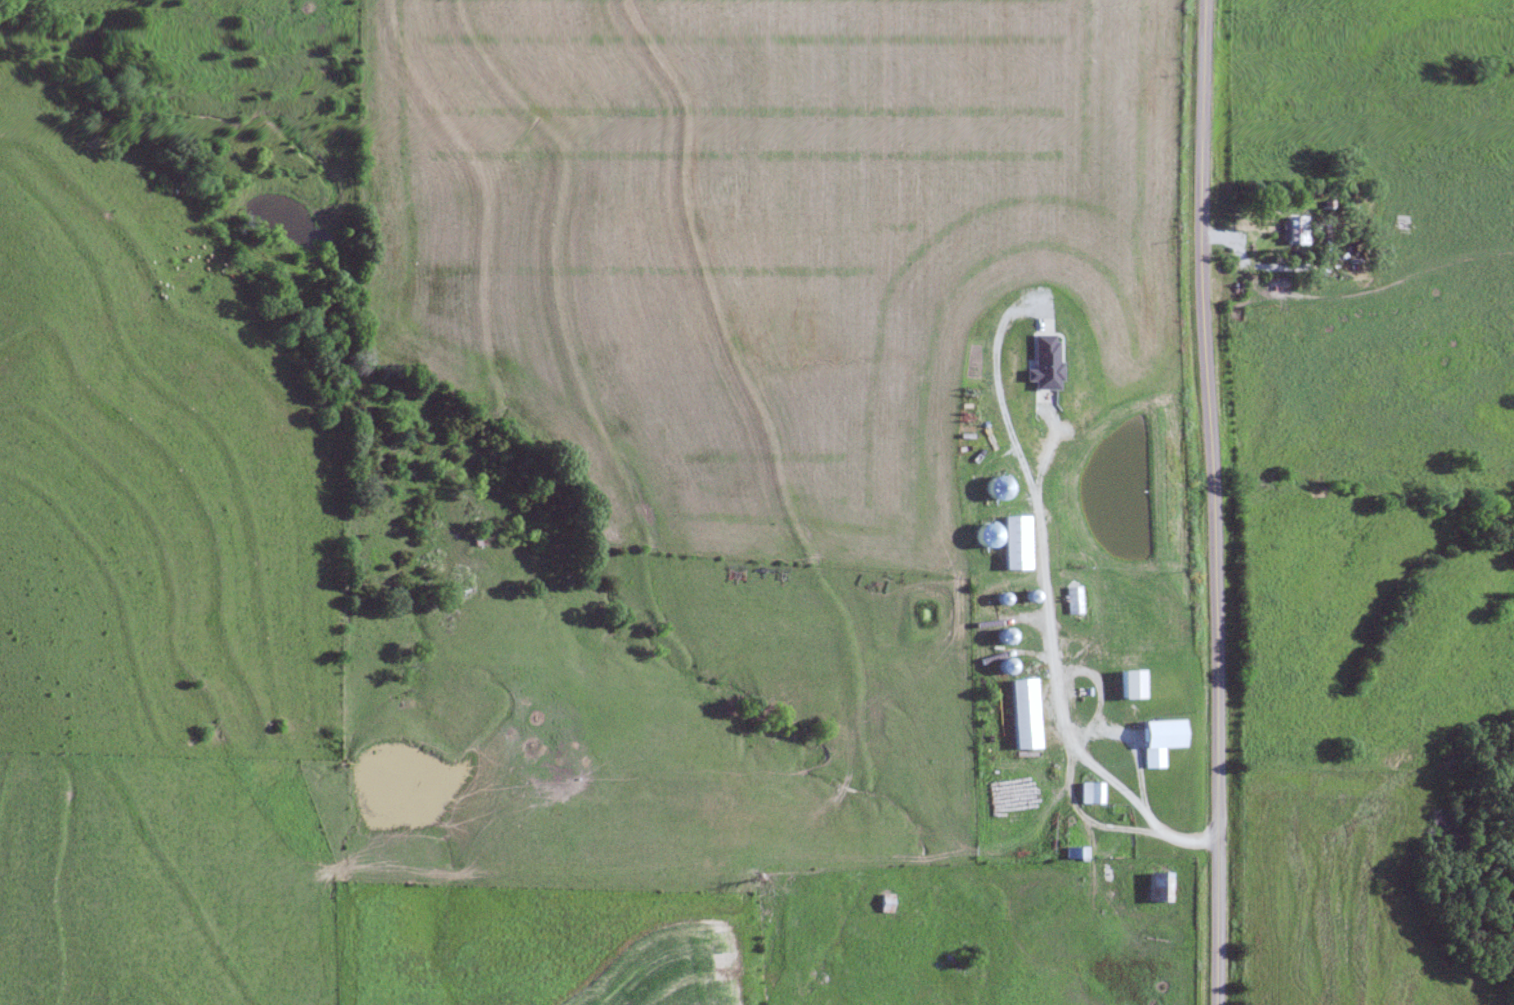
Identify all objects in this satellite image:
building: (1295, 230)
road: (1260, 262)
road: (1211, 502)
building: (1014, 543)
building: (1071, 600)
road: (1051, 660)
building: (1135, 673)
building: (1021, 714)
building: (1088, 793)
building: (1073, 853)
building: (1157, 887)
building: (886, 904)

